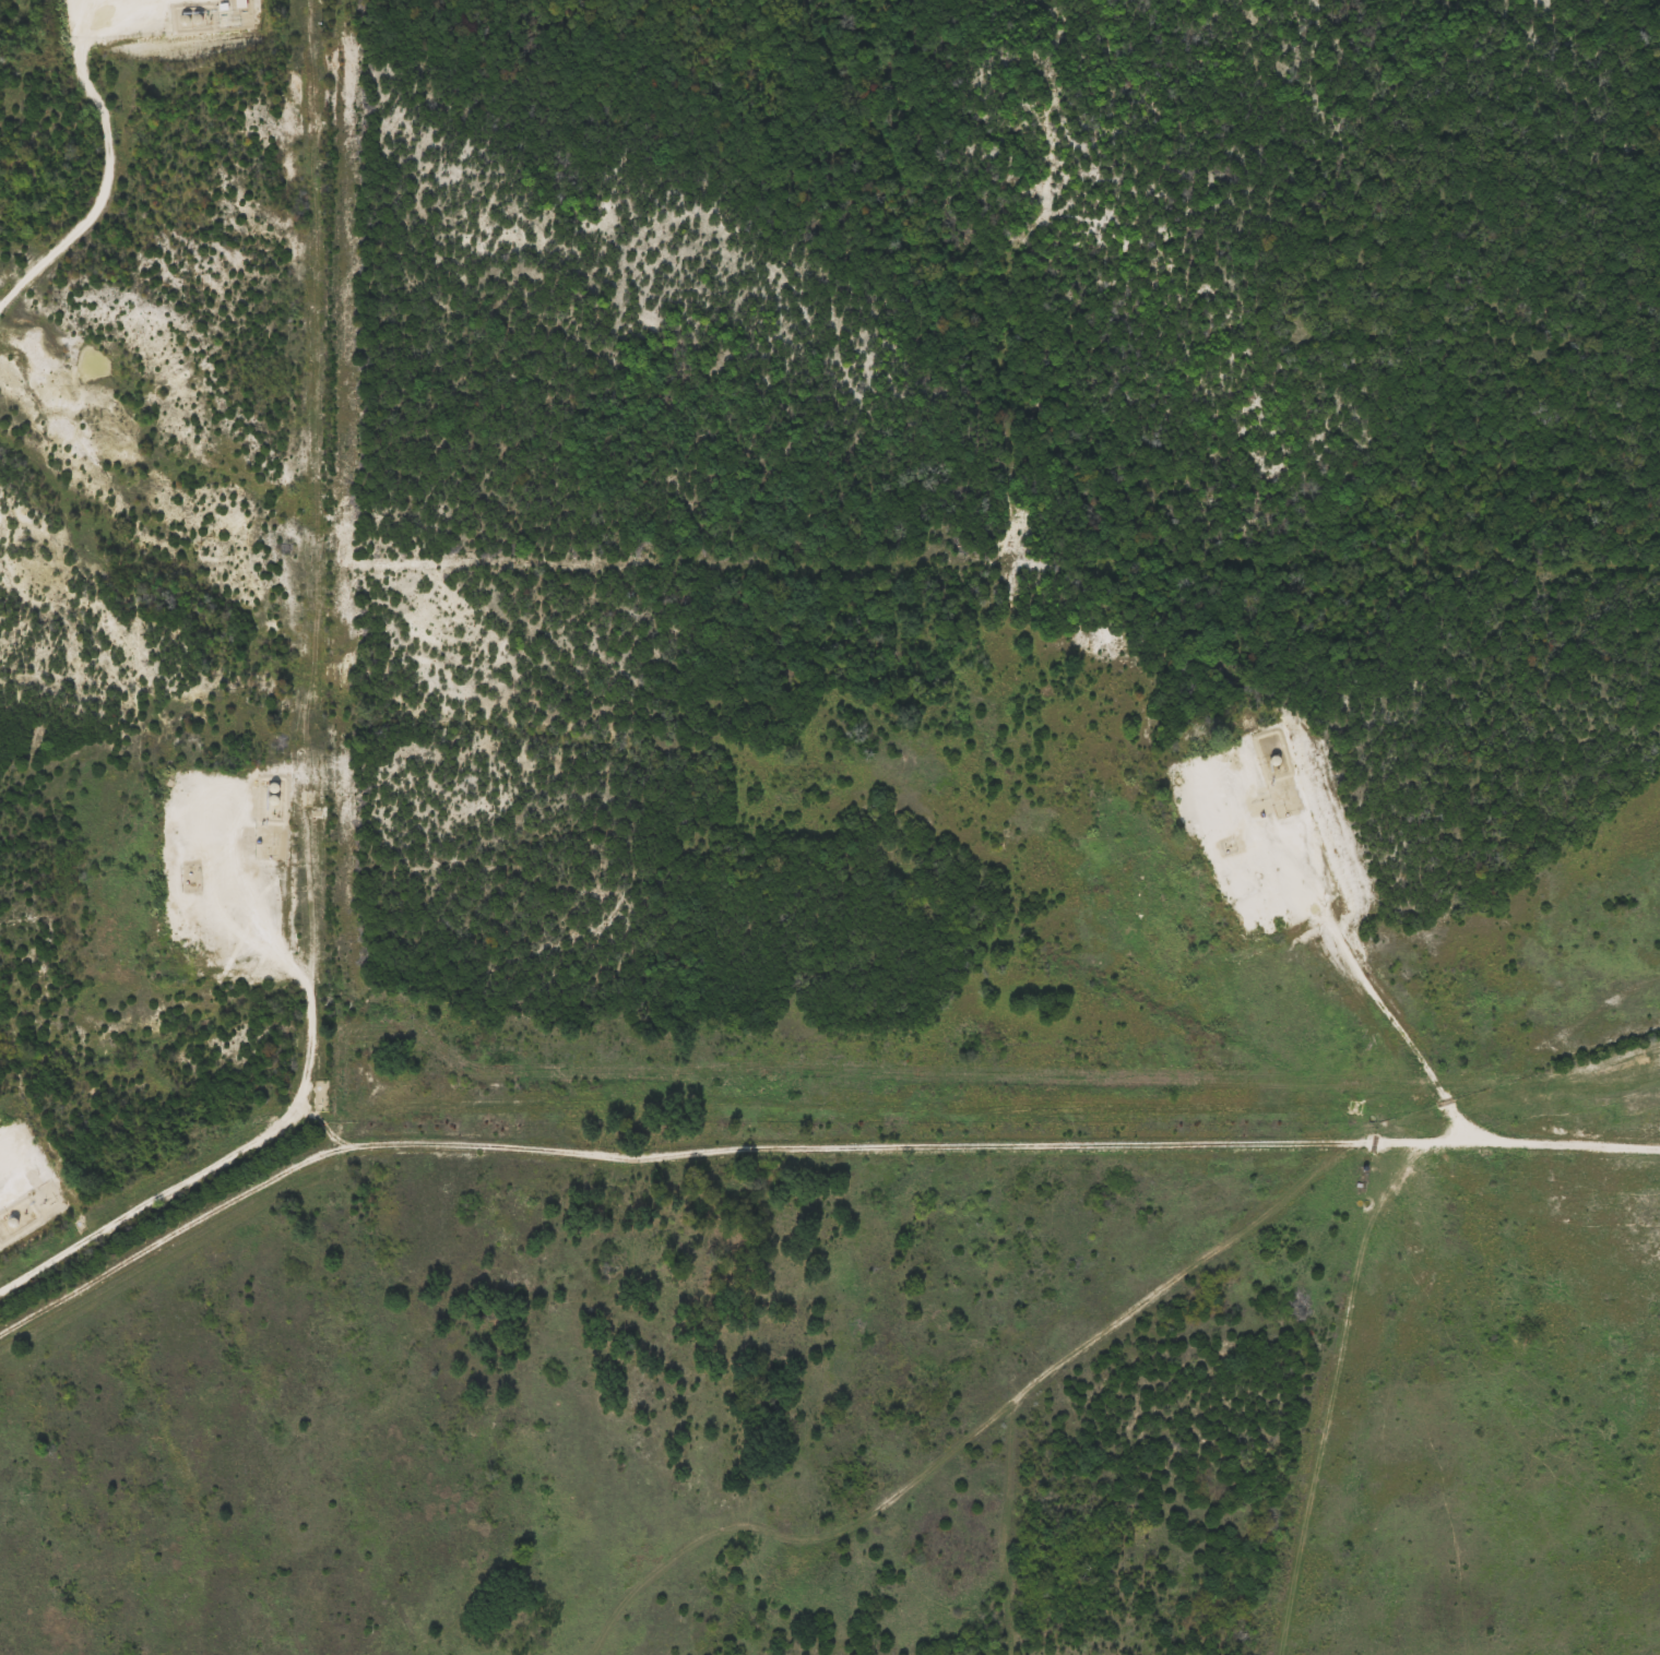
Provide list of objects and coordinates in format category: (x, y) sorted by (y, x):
road: (99, 157)
road: (1369, 988)
road: (1565, 1141)
road: (710, 1150)
road: (12, 1174)

